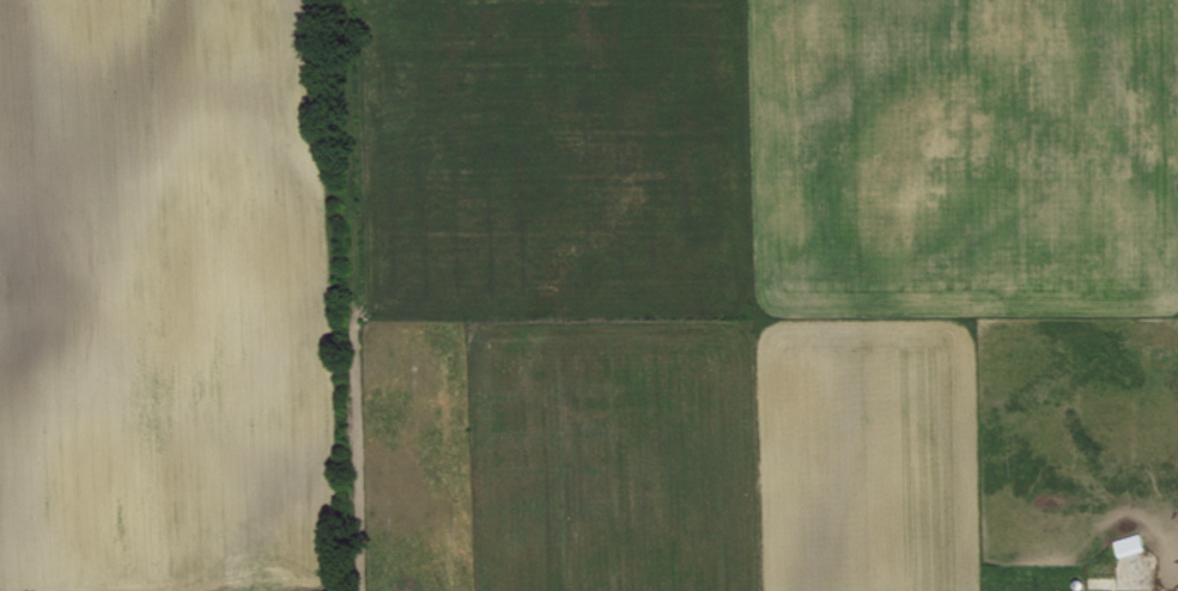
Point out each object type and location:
building: (1130, 542)
building: (1100, 589)

